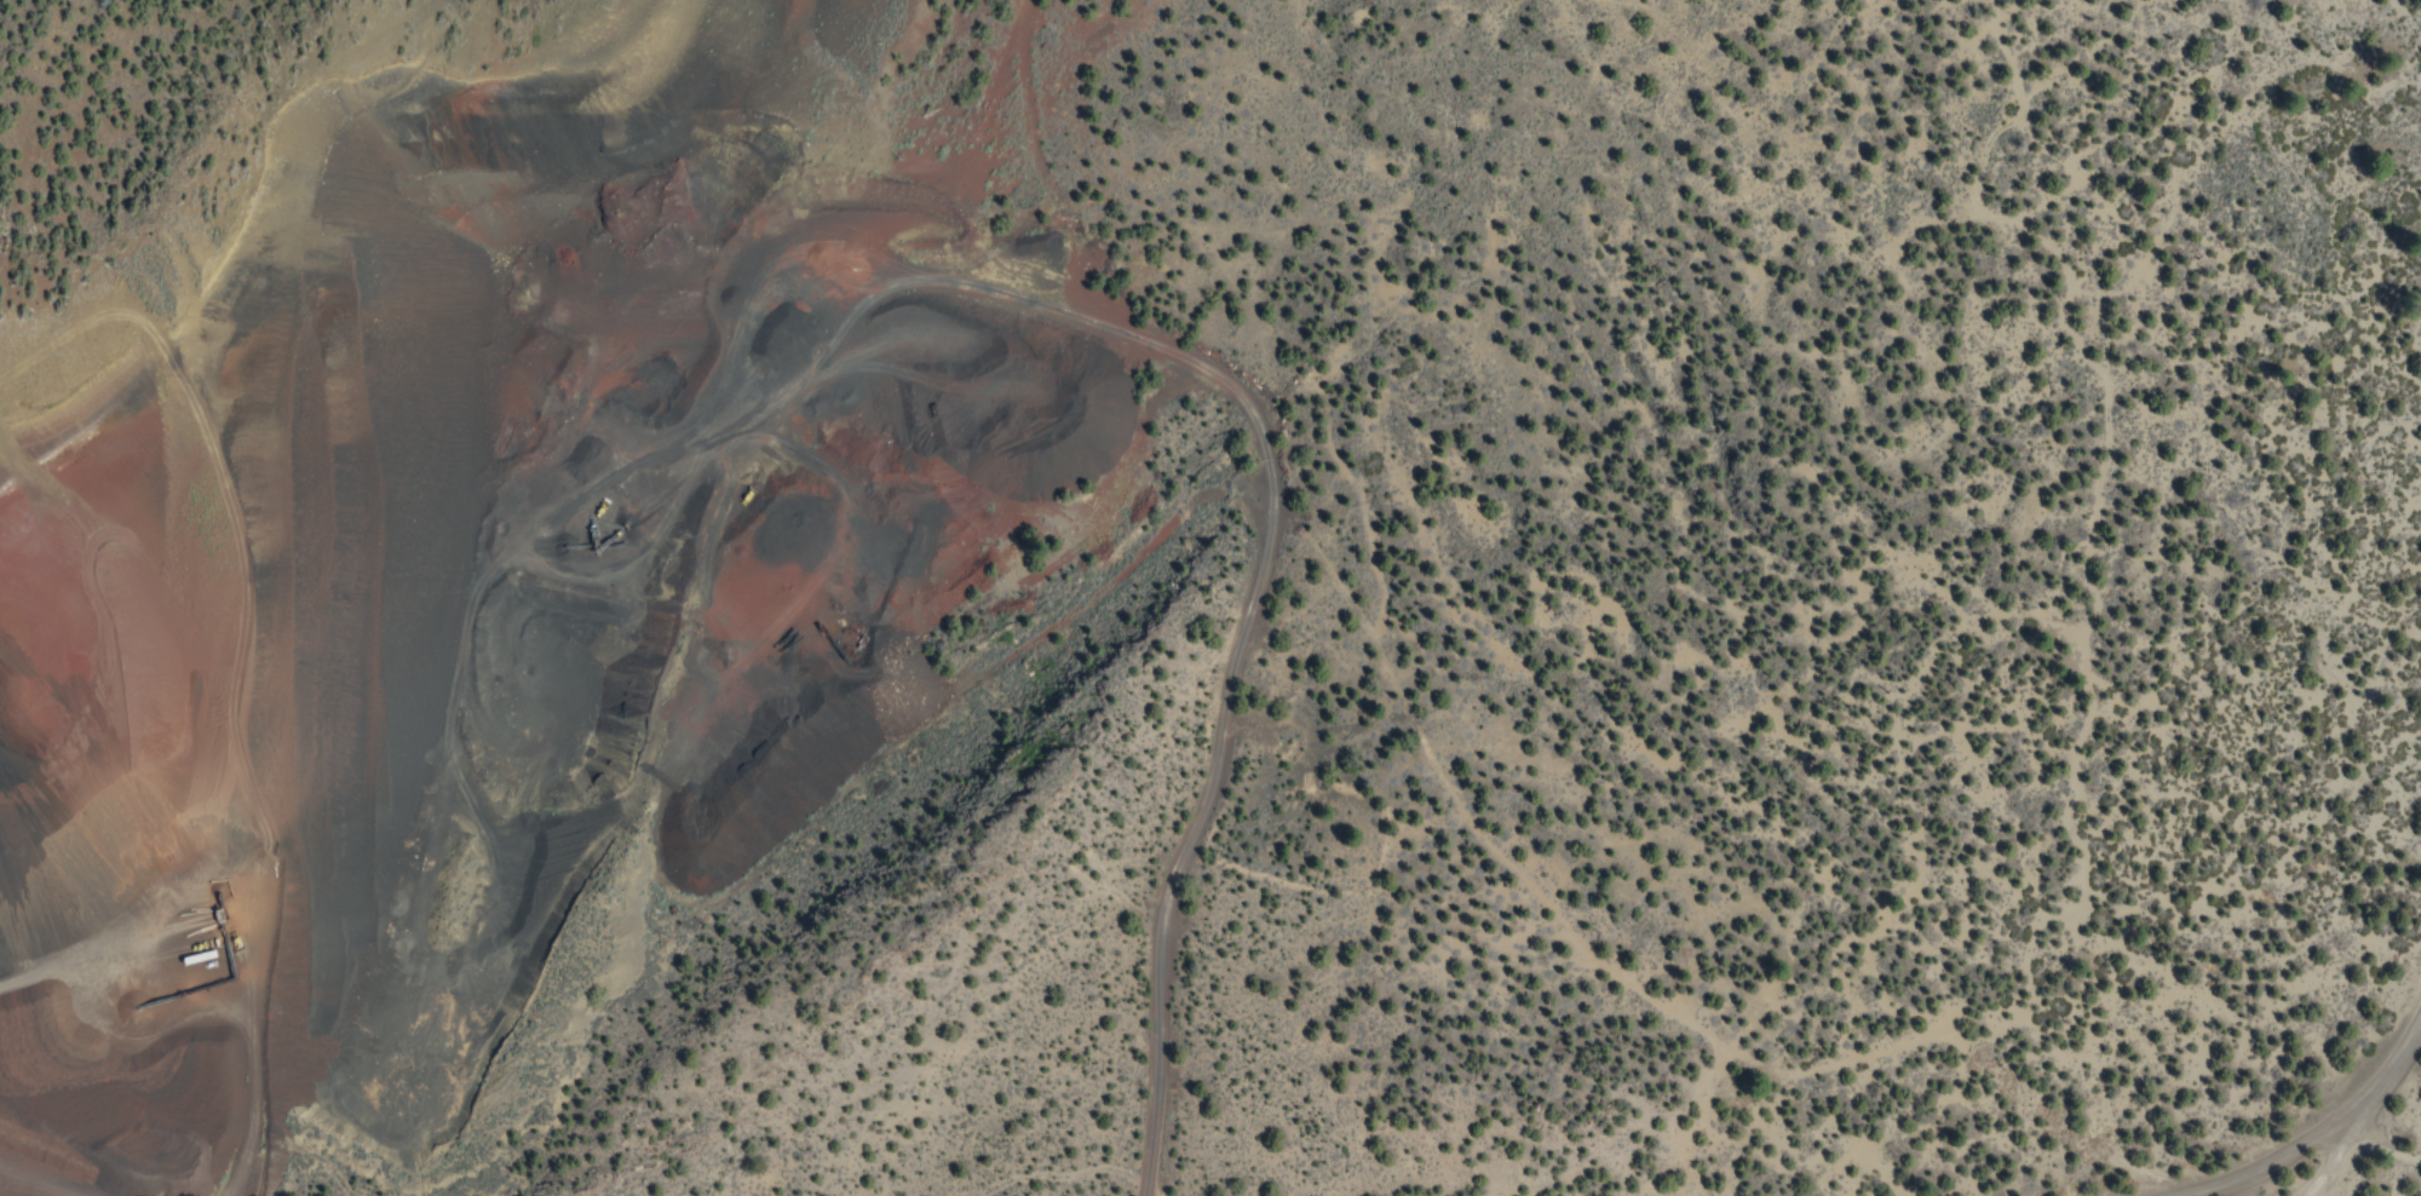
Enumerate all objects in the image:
road: (889, 31)
road: (1255, 435)
quarry: (550, 551)
road: (2301, 1126)
road: (2351, 1129)
road: (2383, 1150)
road: (41, 1174)

